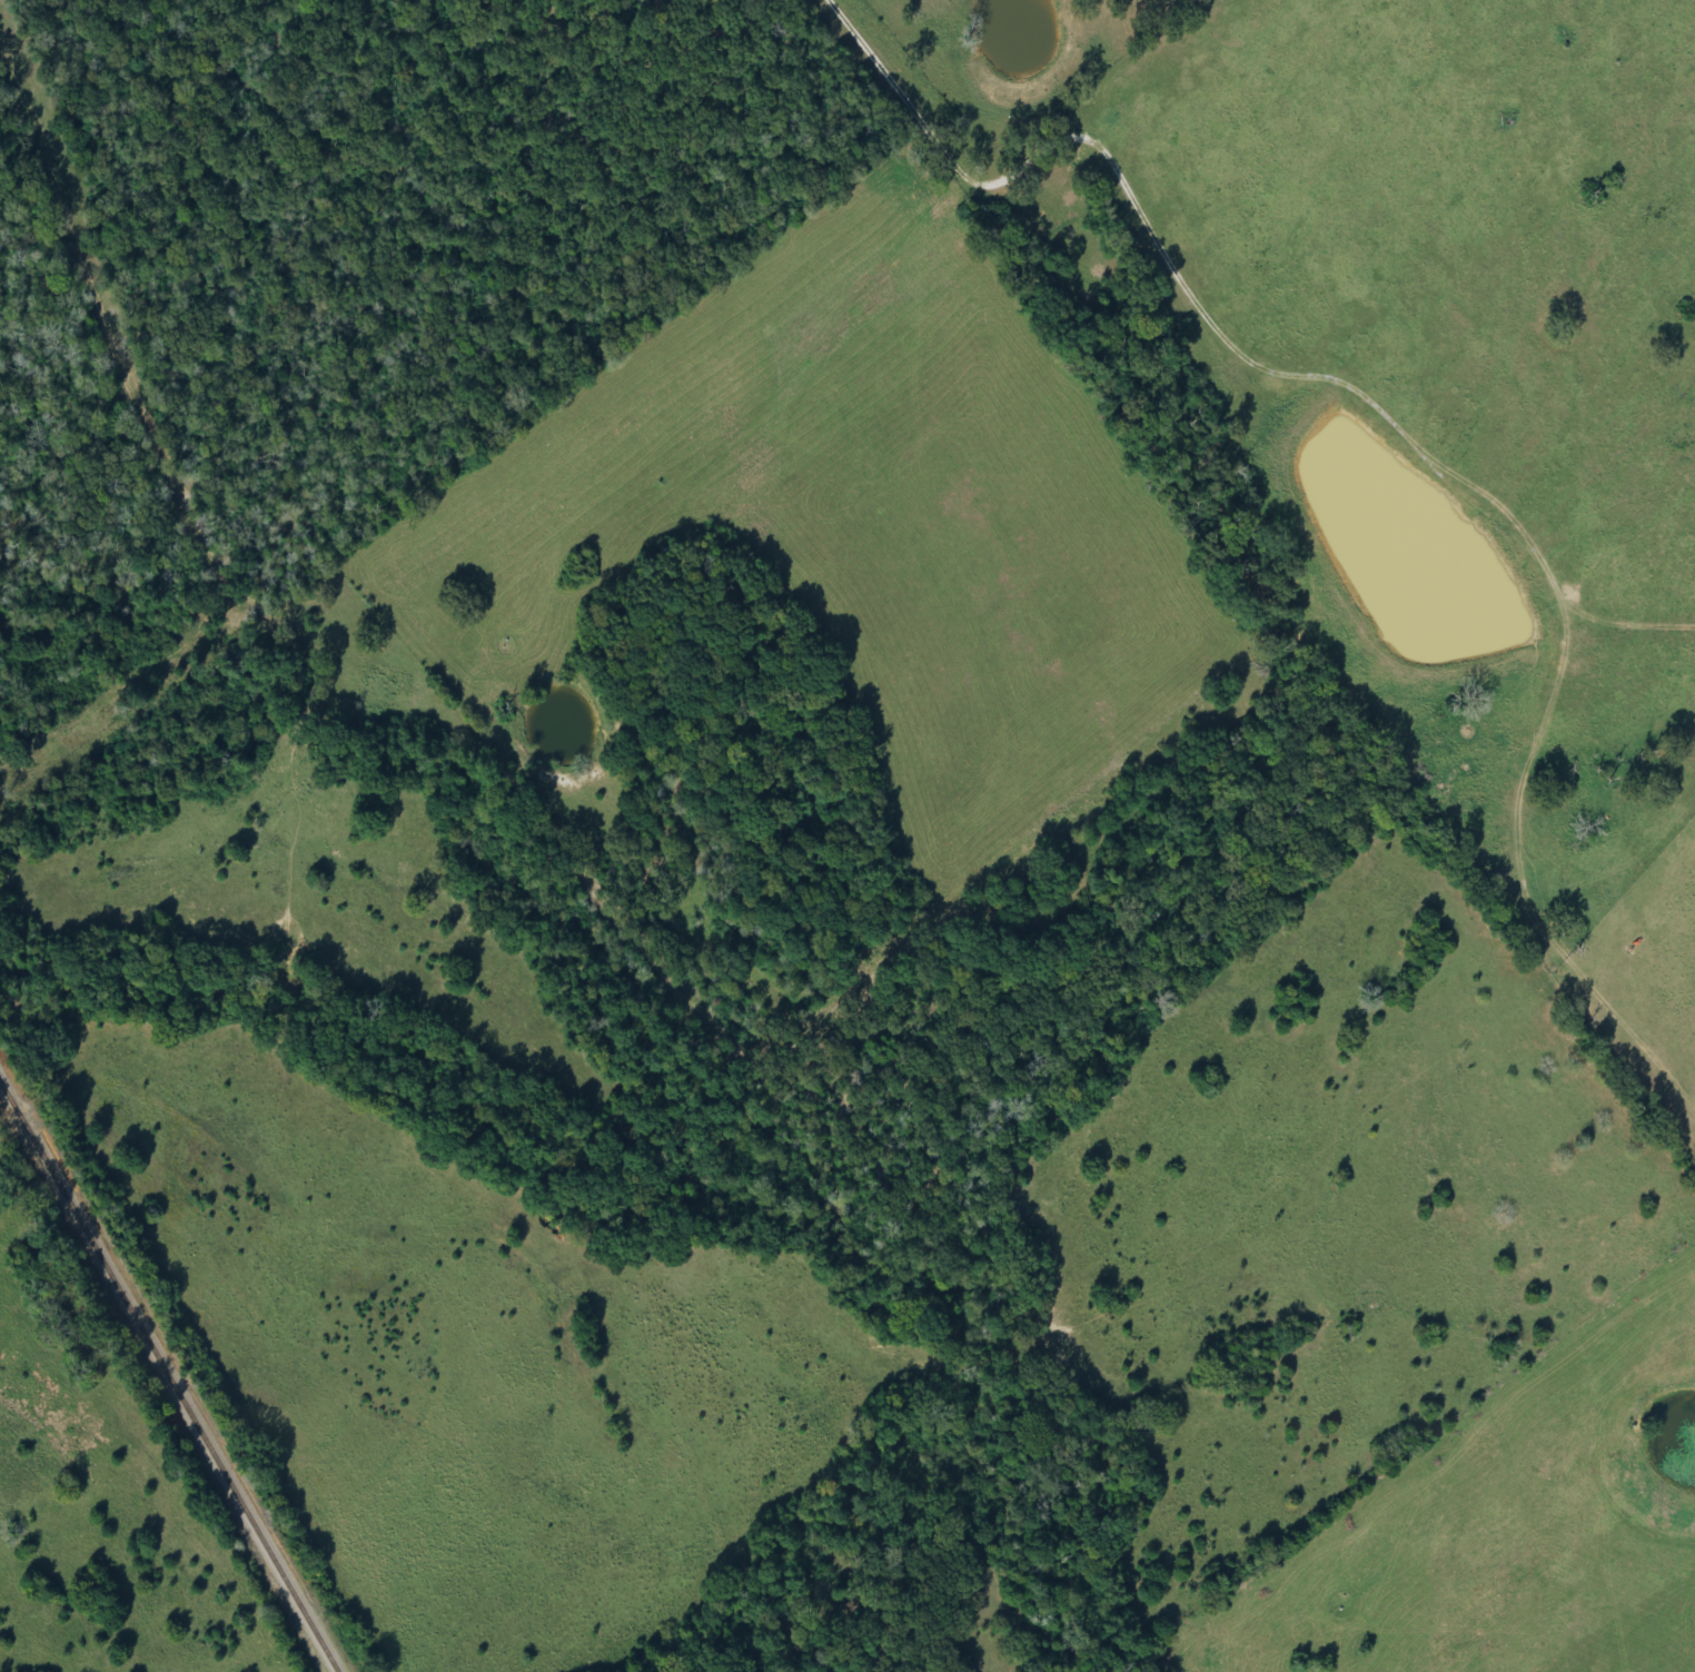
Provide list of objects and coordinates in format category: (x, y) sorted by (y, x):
railway: (167, 1378)

